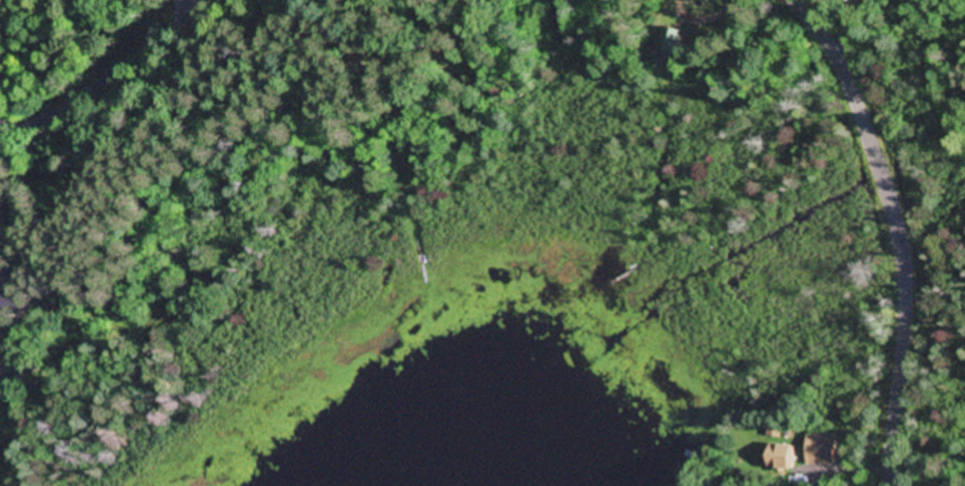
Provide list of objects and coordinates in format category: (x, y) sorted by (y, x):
building: (675, 44)
road: (116, 78)
road: (1, 138)
road: (901, 230)

